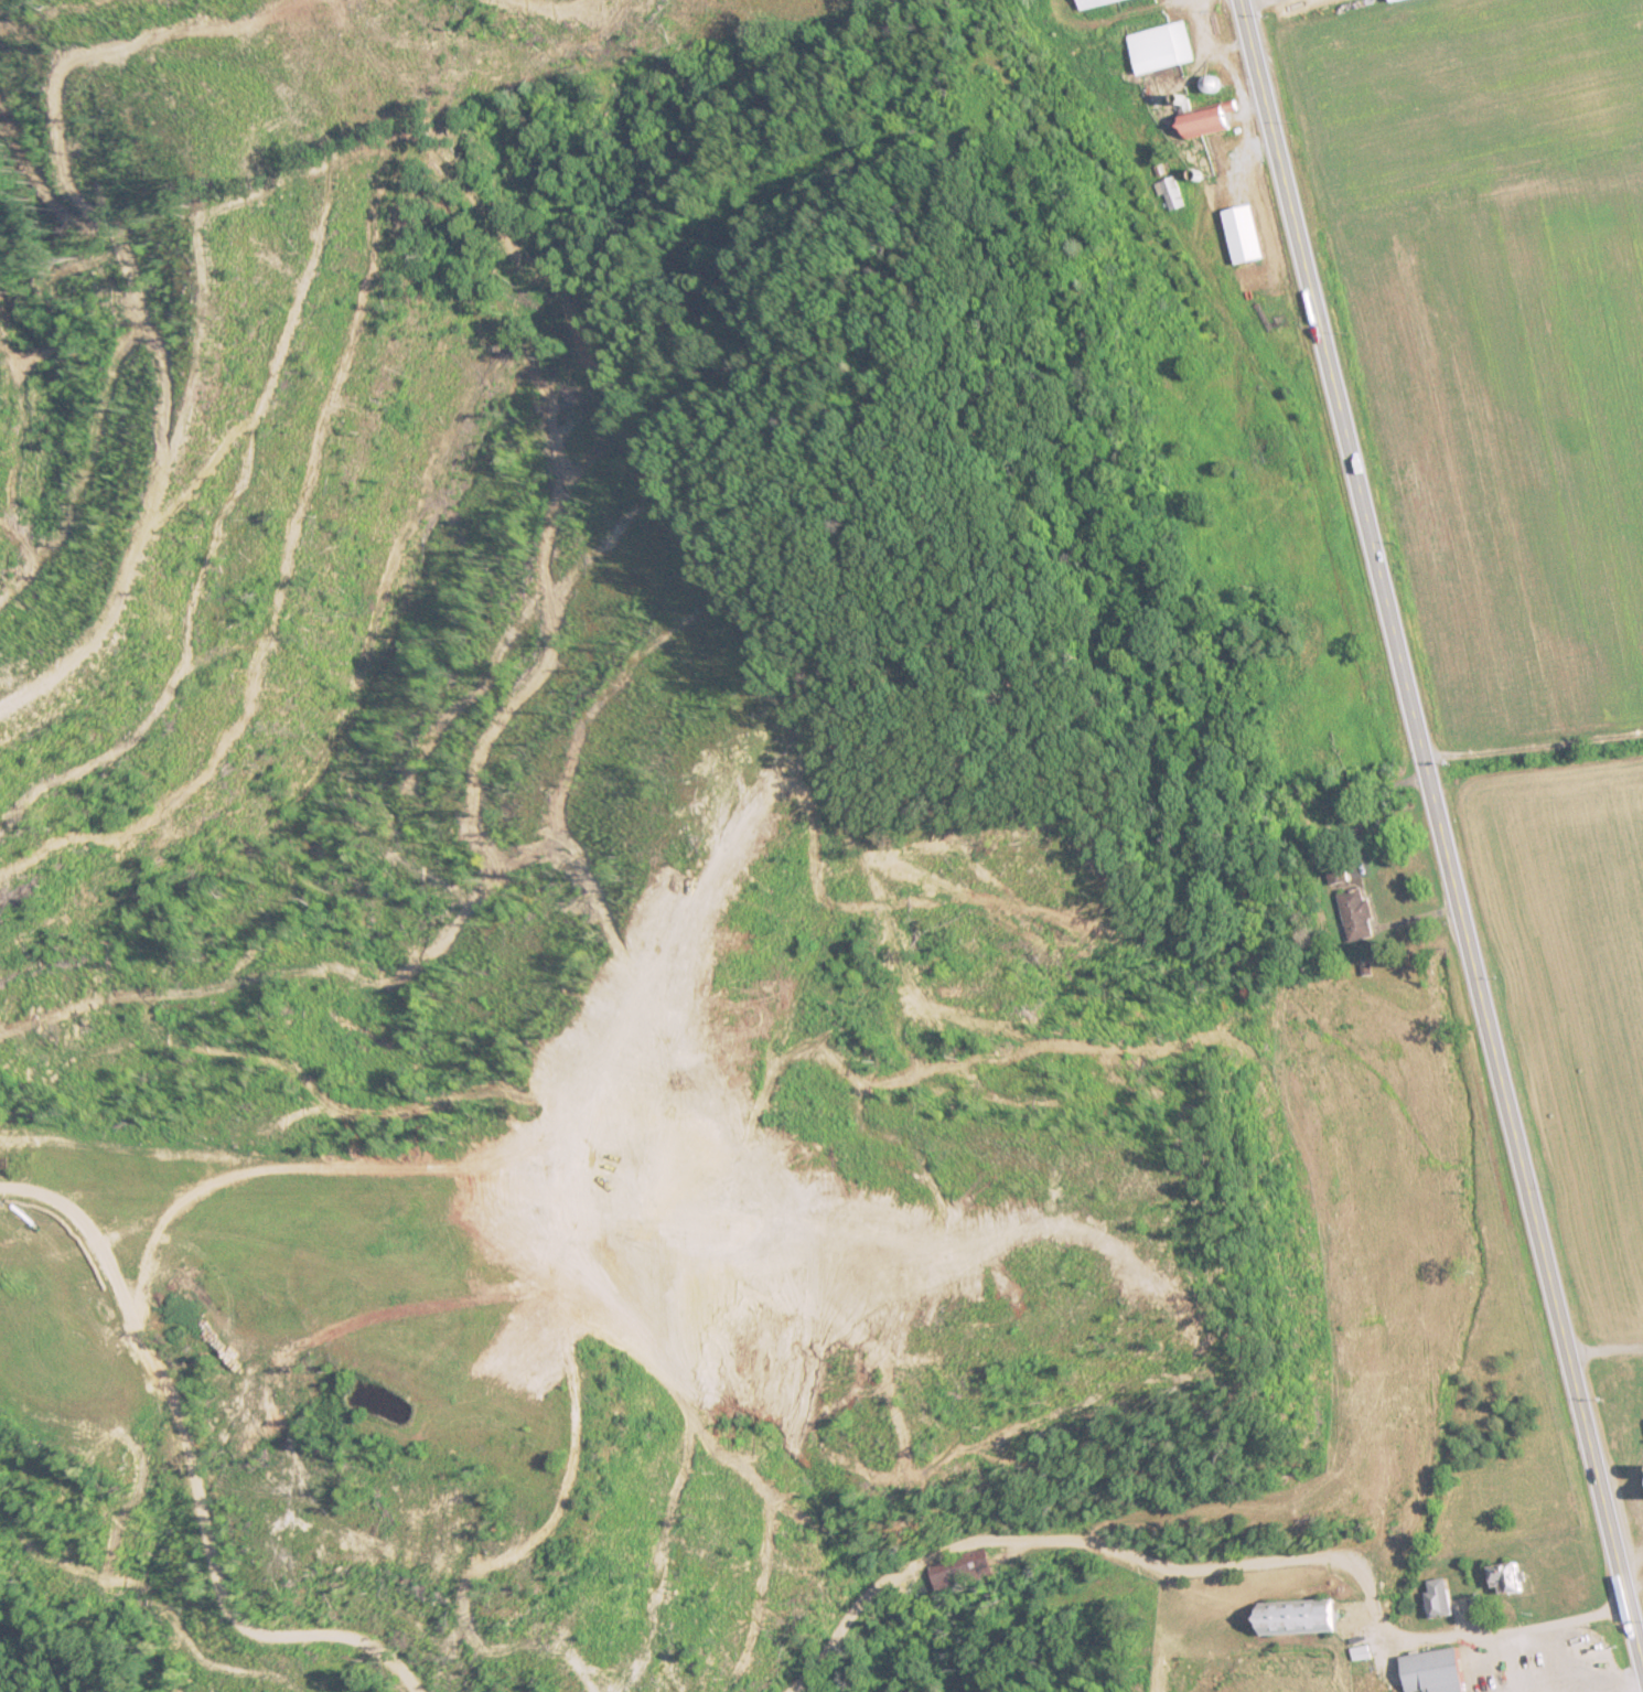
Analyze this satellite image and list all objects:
building: (1098, 3)
building: (1163, 49)
building: (1211, 121)
building: (1174, 195)
building: (1248, 237)
road: (1534, 751)
road: (1441, 835)
road: (151, 1503)
road: (1195, 1517)
building: (964, 1570)
building: (1510, 1581)
building: (1441, 1598)
building: (1302, 1618)
building: (1437, 1672)

